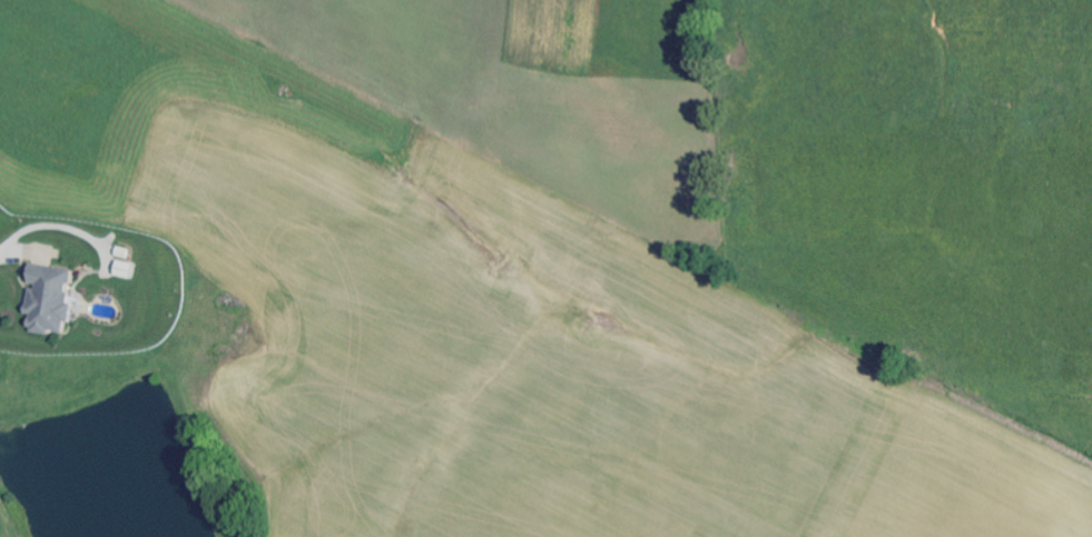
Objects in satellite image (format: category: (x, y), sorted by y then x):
building: (51, 300)

